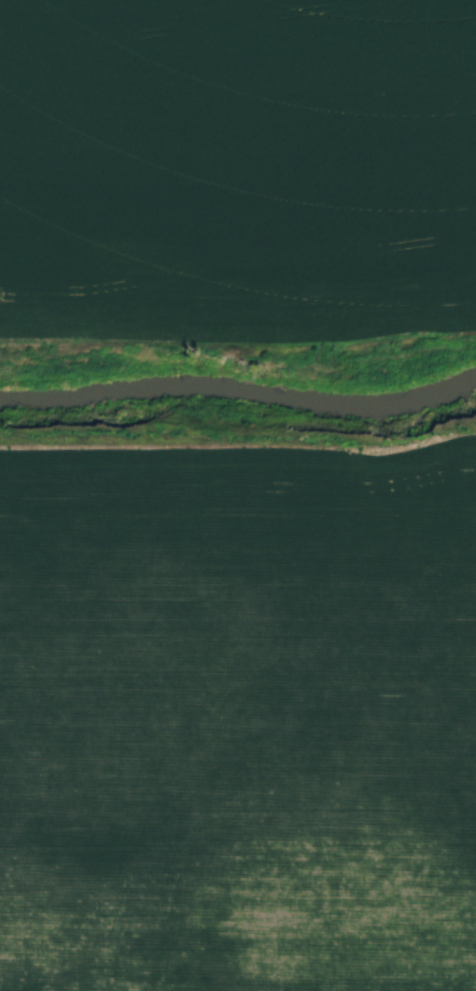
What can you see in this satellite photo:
river: (239, 388)

